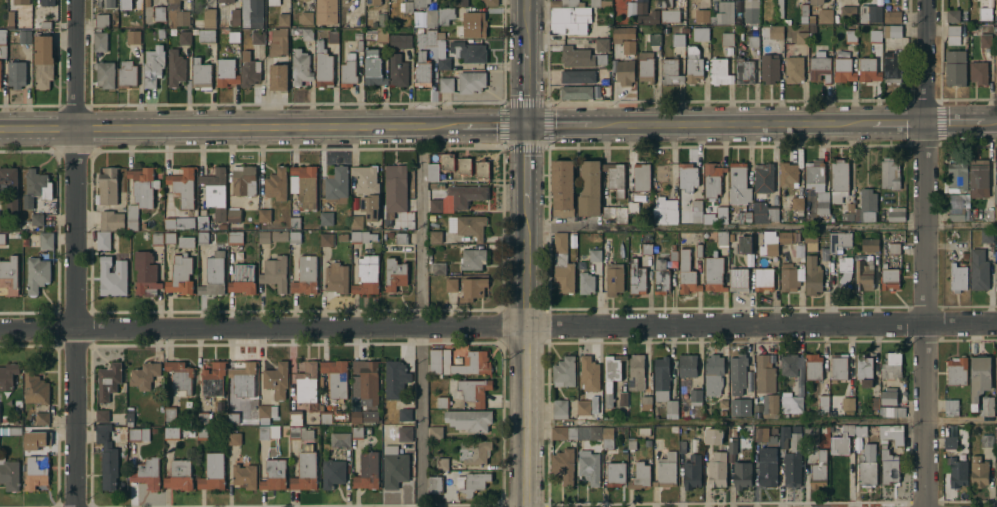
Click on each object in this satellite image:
building: (302, 0)
building: (715, 0)
building: (224, 1)
building: (20, 2)
building: (995, 2)
building: (47, 3)
building: (146, 3)
building: (273, 3)
building: (373, 3)
building: (462, 3)
building: (489, 3)
building: (575, 3)
building: (595, 3)
building: (816, 3)
building: (106, 4)
building: (421, 4)
building: (559, 4)
building: (125, 5)
building: (641, 7)
building: (407, 8)
building: (779, 9)
building: (631, 10)
building: (750, 11)
building: (326, 12)
building: (251, 13)
building: (345, 13)
building: (668, 13)
building: (703, 13)
building: (848, 13)
building: (159, 14)
building: (723, 14)
building: (804, 14)
building: (176, 15)
building: (869, 15)
building: (984, 15)
building: (445, 16)
building: (825, 17)
building: (952, 17)
building: (209, 18)
building: (235, 18)
building: (431, 18)
building: (891, 18)
building: (10, 19)
building: (305, 19)
building: (418, 19)
building: (648, 19)
building: (283, 20)
building: (568, 20)
building: (811, 20)
building: (382, 21)
building: (102, 22)
building: (126, 22)
building: (472, 24)
building: (41, 25)
building: (194, 32)
building: (891, 32)
building: (623, 33)
building: (775, 33)
building: (160, 34)
building: (307, 35)
building: (377, 35)
building: (700, 35)
building: (953, 35)
building: (357, 36)
building: (206, 37)
building: (850, 37)
building: (25, 38)
building: (133, 38)
building: (184, 38)
building: (233, 38)
building: (257, 38)
building: (333, 38)
building: (426, 38)
building: (874, 38)
building: (802, 39)
building: (652, 40)
building: (726, 40)
building: (678, 41)
building: (752, 41)
building: (100, 42)
building: (400, 42)
building: (986, 42)
building: (278, 43)
building: (2, 45)
building: (601, 46)
building: (359, 47)
building: (628, 48)
building: (468, 52)
building: (442, 56)
building: (576, 57)
building: (43, 63)
building: (323, 67)
building: (693, 67)
building: (152, 68)
building: (645, 68)
building: (891, 68)
building: (0, 69)
building: (175, 69)
building: (300, 69)
building: (373, 69)
building: (768, 69)
building: (955, 69)
building: (423, 70)
building: (819, 70)
building: (995, 70)
building: (249, 71)
building: (793, 71)
building: (844, 71)
building: (867, 71)
building: (348, 72)
building: (226, 73)
building: (624, 73)
building: (670, 73)
building: (719, 73)
building: (743, 73)
building: (978, 73)
building: (398, 74)
building: (17, 75)
building: (104, 75)
building: (127, 75)
building: (200, 76)
building: (577, 77)
building: (278, 78)
building: (471, 82)
building: (446, 85)
building: (596, 92)
building: (575, 93)
road: (498, 128)
traffic signals: (527, 128)
building: (433, 158)
building: (447, 160)
building: (464, 164)
building: (482, 167)
building: (432, 170)
building: (814, 174)
building: (787, 175)
building: (889, 175)
building: (957, 177)
building: (243, 178)
building: (641, 178)
building: (687, 178)
building: (763, 179)
building: (615, 180)
building: (979, 180)
building: (838, 181)
building: (712, 182)
building: (276, 183)
building: (337, 183)
building: (143, 184)
building: (183, 184)
building: (304, 184)
building: (107, 185)
building: (738, 185)
building: (36, 186)
building: (9, 187)
building: (396, 187)
building: (367, 188)
building: (996, 189)
building: (215, 190)
building: (562, 190)
building: (589, 190)
building: (466, 194)
building: (436, 204)
building: (822, 204)
building: (797, 205)
building: (866, 207)
building: (632, 209)
building: (664, 212)
building: (696, 212)
building: (848, 212)
building: (234, 214)
building: (264, 214)
building: (764, 214)
building: (956, 214)
building: (615, 215)
building: (895, 215)
building: (132, 216)
building: (988, 216)
building: (326, 217)
building: (716, 217)
building: (37, 218)
building: (744, 218)
building: (111, 219)
building: (402, 219)
building: (294, 220)
building: (356, 220)
building: (387, 220)
building: (178, 221)
building: (202, 221)
building: (467, 224)
road: (762, 226)
building: (390, 233)
building: (279, 235)
building: (342, 235)
building: (362, 235)
building: (986, 235)
building: (113, 236)
building: (169, 236)
building: (264, 236)
building: (295, 236)
building: (401, 236)
building: (435, 236)
building: (731, 236)
building: (787, 236)
building: (156, 237)
building: (202, 237)
building: (235, 237)
building: (722, 237)
building: (2, 238)
building: (326, 238)
building: (810, 239)
building: (25, 240)
building: (46, 240)
building: (103, 240)
building: (186, 240)
building: (839, 240)
building: (744, 243)
building: (768, 243)
building: (869, 243)
building: (646, 247)
building: (894, 247)
building: (698, 249)
building: (799, 249)
road: (74, 253)
road: (527, 253)
building: (824, 253)
road: (928, 253)
building: (595, 254)
building: (673, 254)
building: (964, 256)
building: (472, 257)
building: (580, 261)
building: (562, 264)
building: (438, 266)
building: (844, 267)
building: (979, 269)
building: (275, 271)
building: (37, 273)
building: (145, 273)
building: (180, 273)
building: (213, 273)
building: (366, 273)
building: (394, 273)
building: (687, 273)
building: (714, 273)
building: (9, 274)
building: (113, 274)
building: (305, 274)
building: (812, 274)
building: (864, 274)
building: (661, 275)
building: (790, 275)
building: (996, 275)
building: (636, 276)
building: (889, 276)
building: (958, 276)
building: (336, 277)
building: (614, 277)
building: (738, 277)
building: (243, 278)
building: (763, 278)
building: (586, 282)
building: (451, 283)
building: (473, 287)
road: (420, 317)
road: (498, 326)
building: (438, 361)
building: (474, 362)
building: (687, 364)
building: (813, 364)
building: (891, 364)
building: (838, 365)
building: (864, 369)
building: (564, 370)
building: (956, 370)
building: (636, 371)
building: (589, 372)
building: (738, 372)
building: (764, 373)
building: (8, 374)
building: (144, 374)
building: (611, 374)
building: (715, 374)
building: (996, 375)
building: (180, 376)
building: (336, 376)
building: (980, 376)
building: (243, 377)
building: (395, 377)
building: (213, 378)
building: (276, 378)
building: (306, 381)
building: (108, 382)
building: (800, 383)
building: (663, 384)
building: (34, 385)
building: (474, 389)
building: (366, 394)
building: (696, 395)
building: (889, 395)
building: (622, 397)
building: (442, 400)
building: (645, 401)
building: (722, 402)
building: (848, 402)
building: (874, 402)
building: (823, 403)
building: (770, 404)
building: (987, 404)
building: (343, 405)
building: (706, 405)
building: (583, 406)
building: (951, 406)
building: (559, 407)
building: (739, 407)
building: (892, 410)
building: (722, 411)
building: (169, 412)
building: (267, 412)
building: (404, 413)
building: (102, 414)
building: (130, 415)
building: (325, 415)
building: (340, 415)
building: (202, 416)
building: (233, 416)
building: (42, 417)
building: (294, 417)
building: (469, 418)
road: (762, 420)
building: (102, 424)
building: (14, 429)
building: (123, 429)
building: (773, 429)
building: (360, 430)
building: (643, 430)
building: (948, 430)
building: (269, 431)
building: (435, 431)
building: (563, 431)
building: (589, 431)
building: (732, 431)
building: (35, 432)
building: (172, 432)
building: (202, 432)
building: (405, 432)
building: (138, 433)
building: (709, 433)
building: (810, 434)
building: (299, 435)
building: (996, 435)
building: (234, 437)
building: (607, 437)
building: (845, 437)
building: (340, 438)
building: (987, 439)
building: (632, 441)
building: (950, 441)
building: (682, 445)
building: (732, 446)
building: (474, 450)
building: (790, 453)
building: (886, 453)
building: (767, 456)
building: (107, 457)
building: (441, 462)
building: (563, 464)
building: (589, 464)
building: (394, 465)
building: (867, 465)
building: (717, 467)
building: (305, 468)
building: (667, 469)
building: (819, 469)
building: (36, 470)
building: (367, 470)
building: (692, 470)
building: (996, 470)
building: (212, 471)
building: (333, 471)
building: (957, 471)
building: (979, 471)
building: (147, 472)
building: (615, 472)
building: (9, 473)
building: (274, 473)
building: (741, 473)
building: (179, 474)
building: (244, 475)
building: (640, 475)
building: (470, 482)
building: (435, 484)

